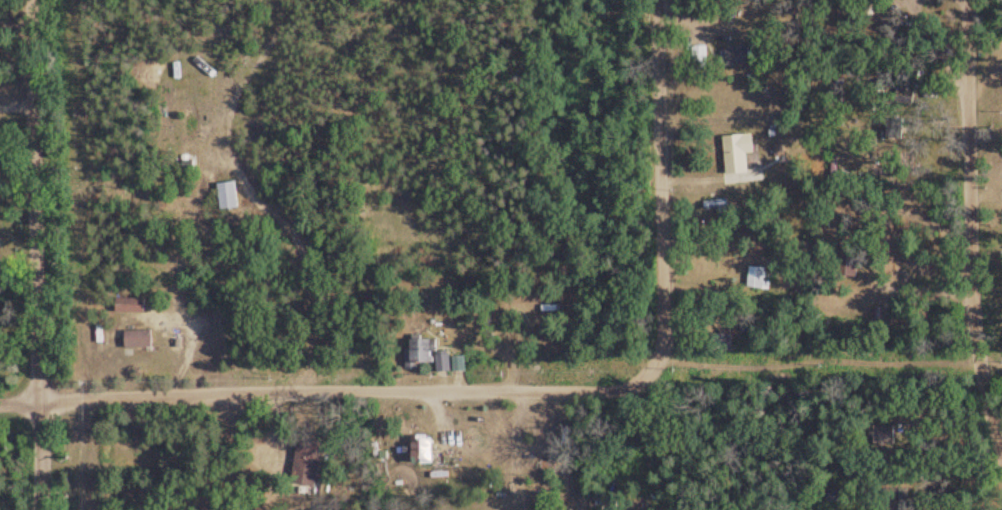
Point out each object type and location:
building: (736, 56)
building: (737, 153)
road: (978, 176)
road: (650, 190)
building: (227, 195)
road: (961, 247)
road: (41, 254)
building: (751, 276)
road: (289, 310)
road: (781, 338)
building: (420, 353)
road: (325, 387)

